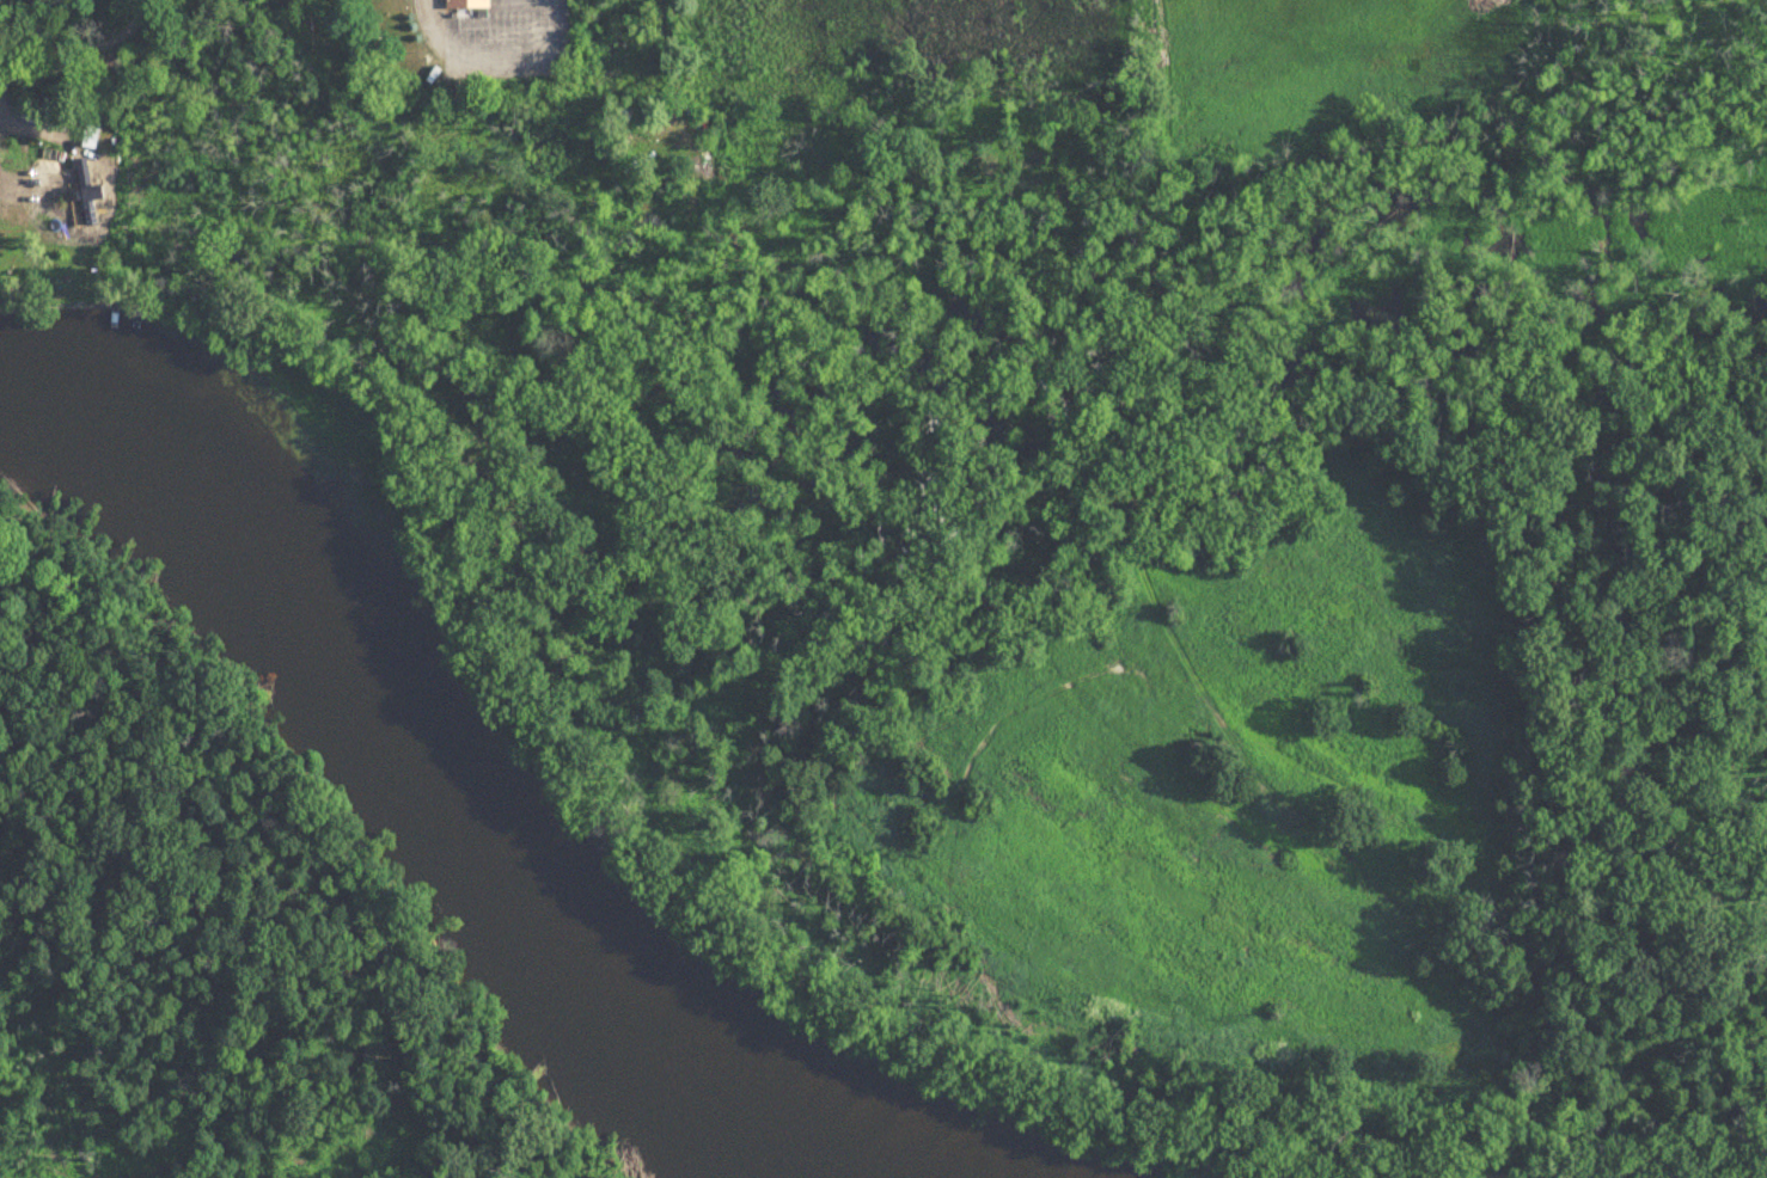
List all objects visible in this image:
building: (464, 4)
road: (497, 53)
road: (668, 55)
road: (94, 61)
river: (438, 809)

